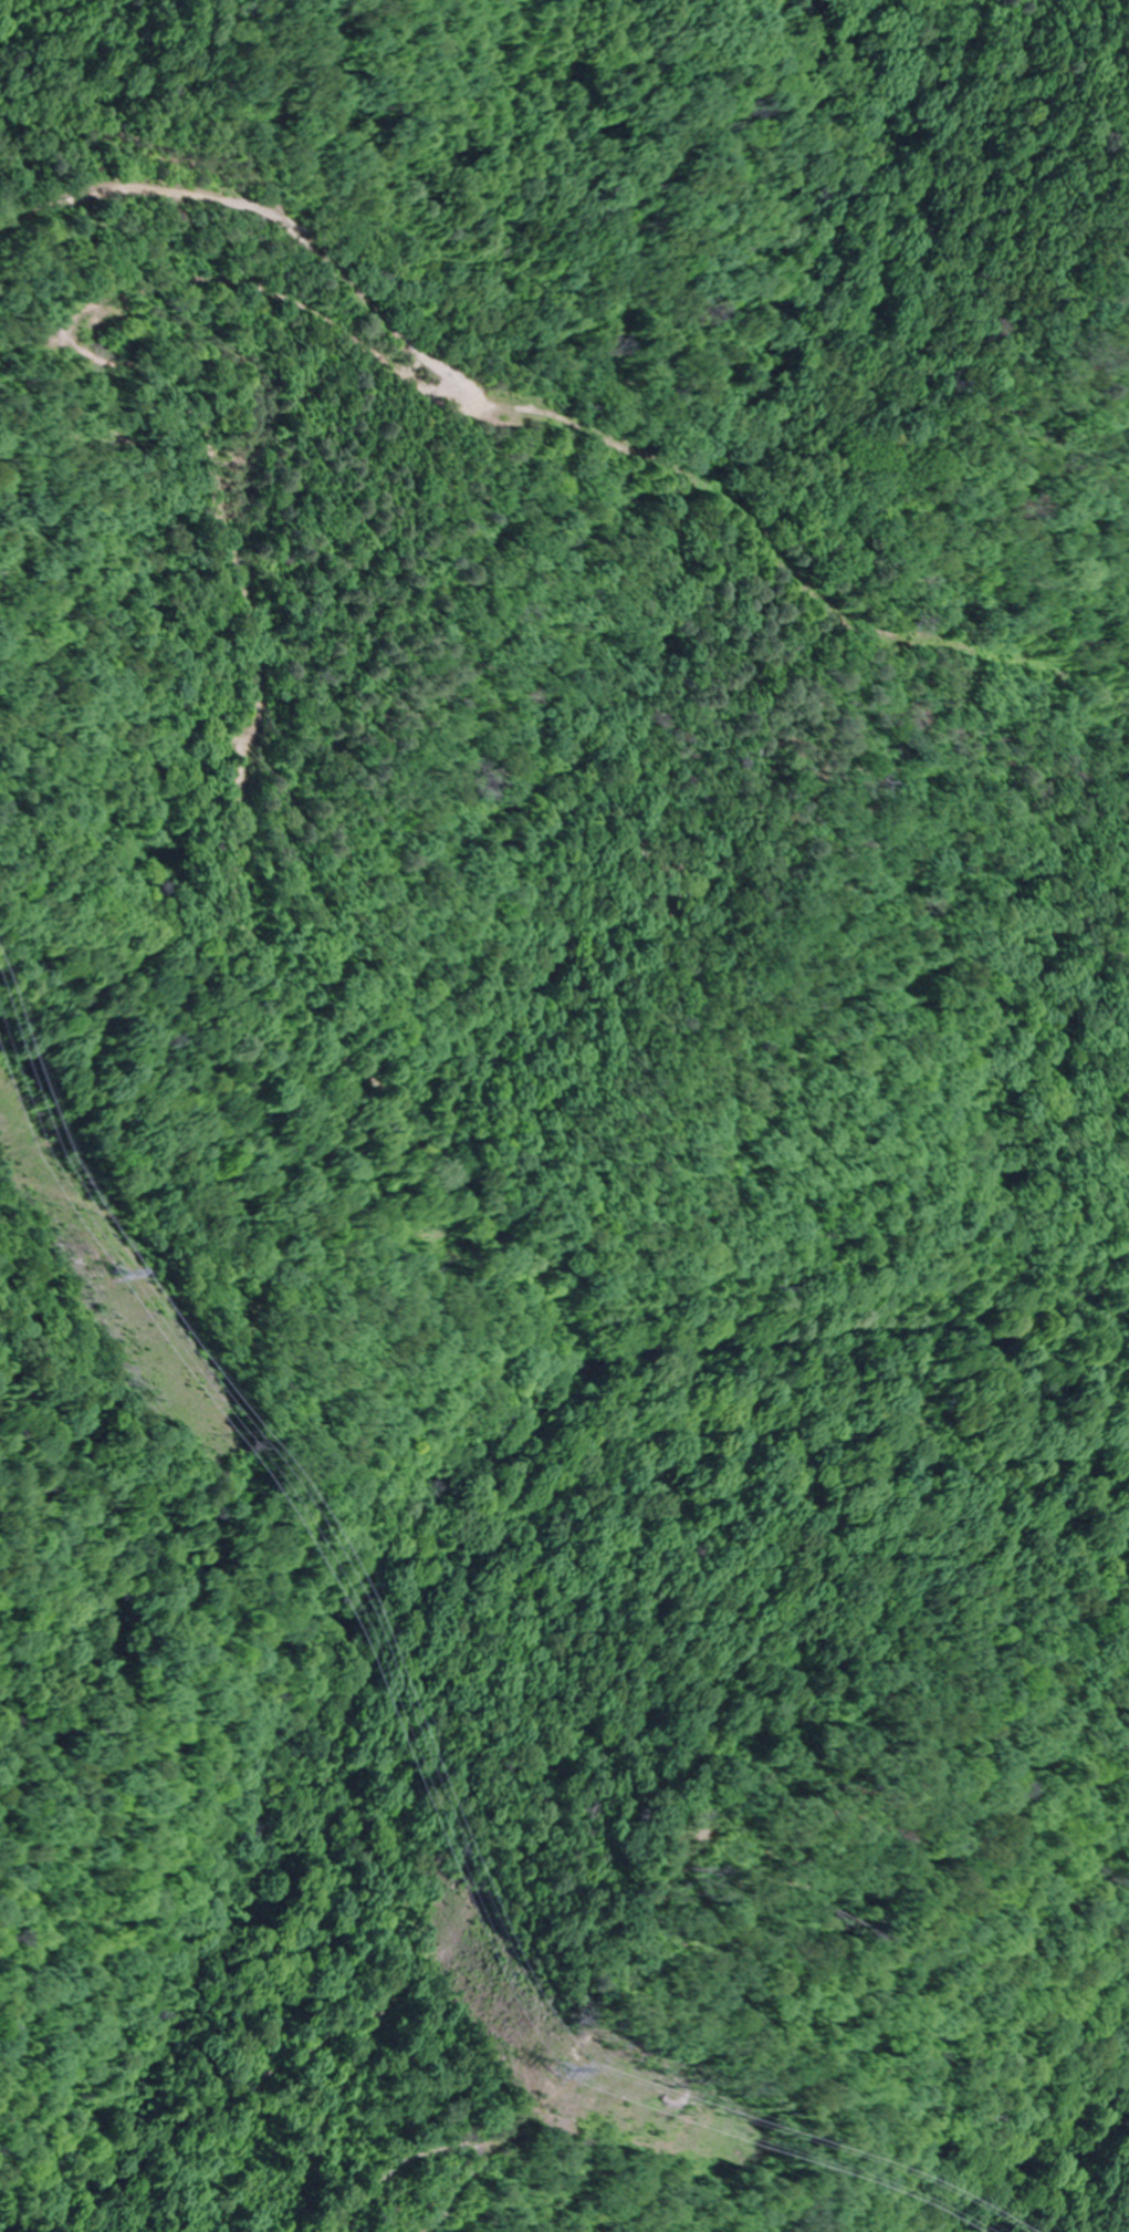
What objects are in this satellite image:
power tower: (107, 1276)
power tower: (551, 2076)

